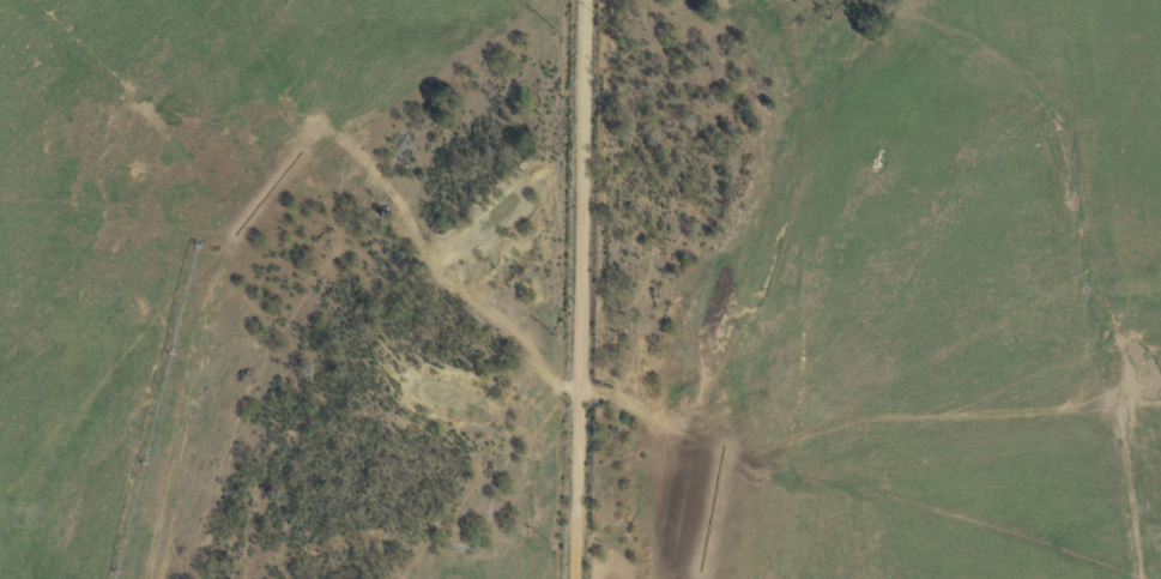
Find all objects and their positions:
road: (582, 289)

